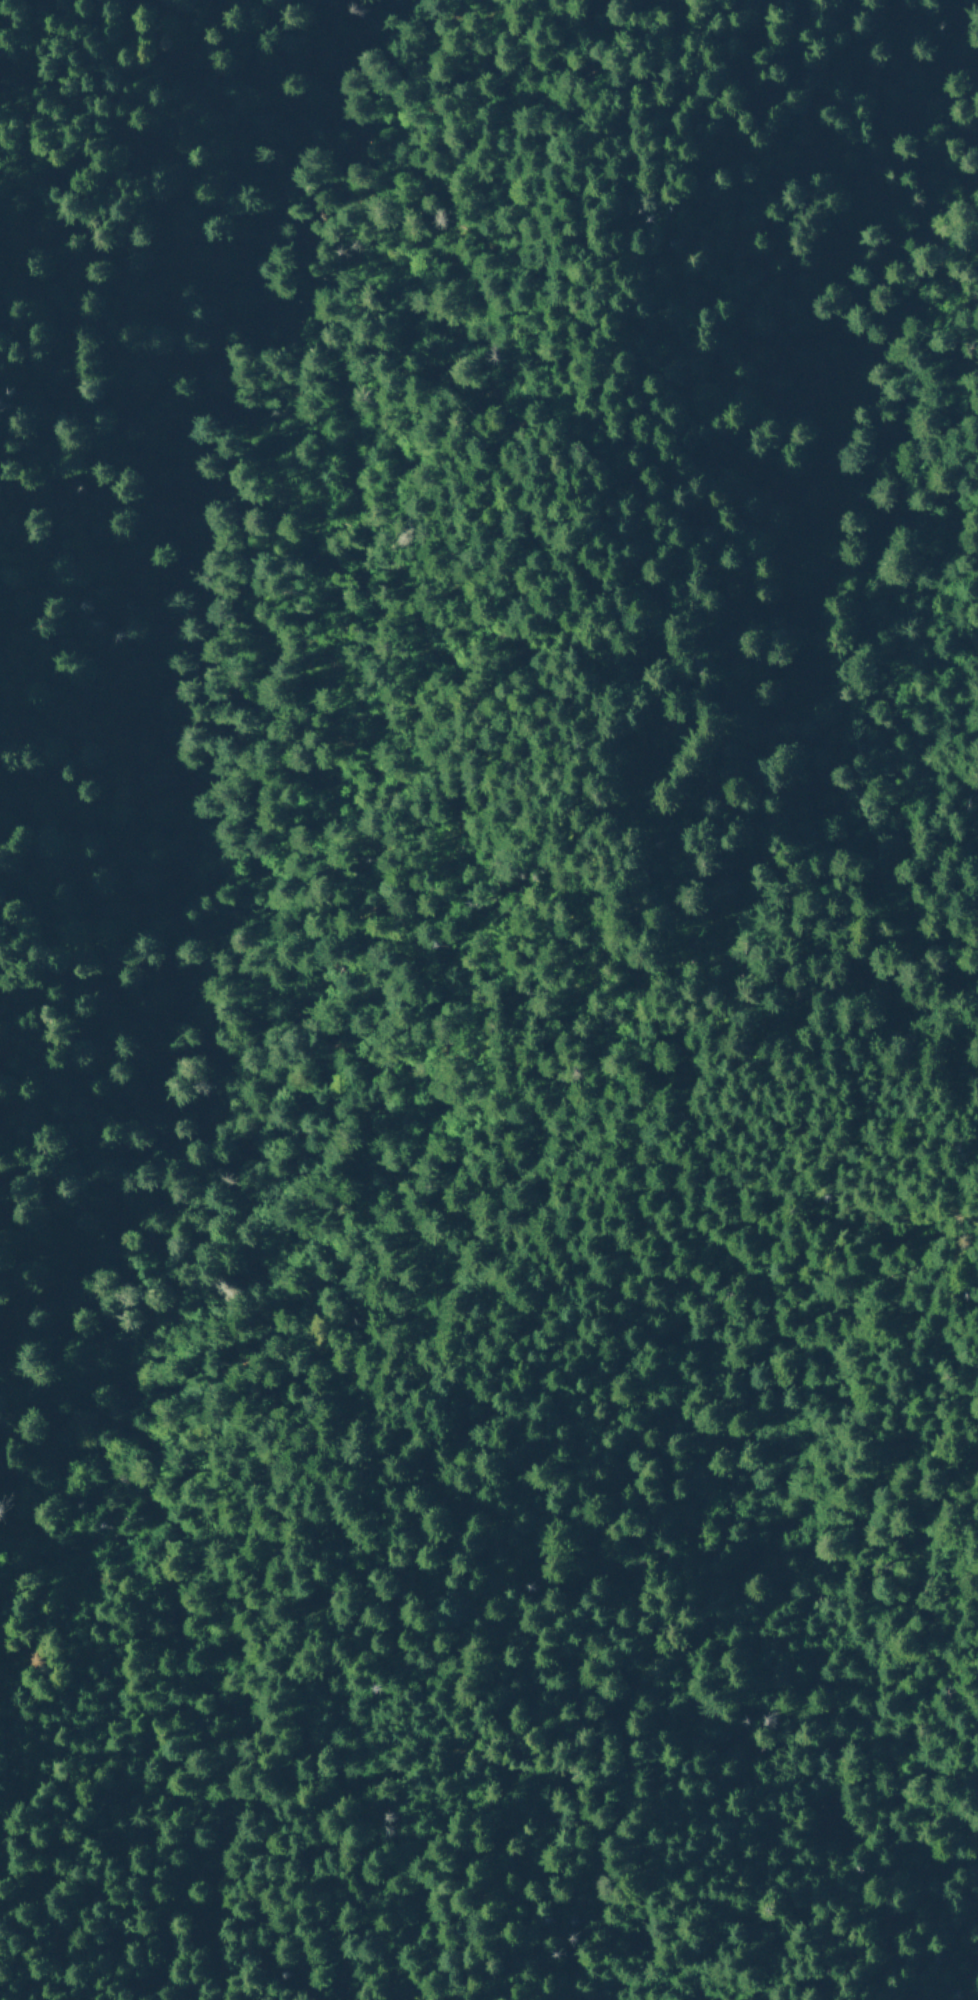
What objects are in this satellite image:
road: (493, 1359)

